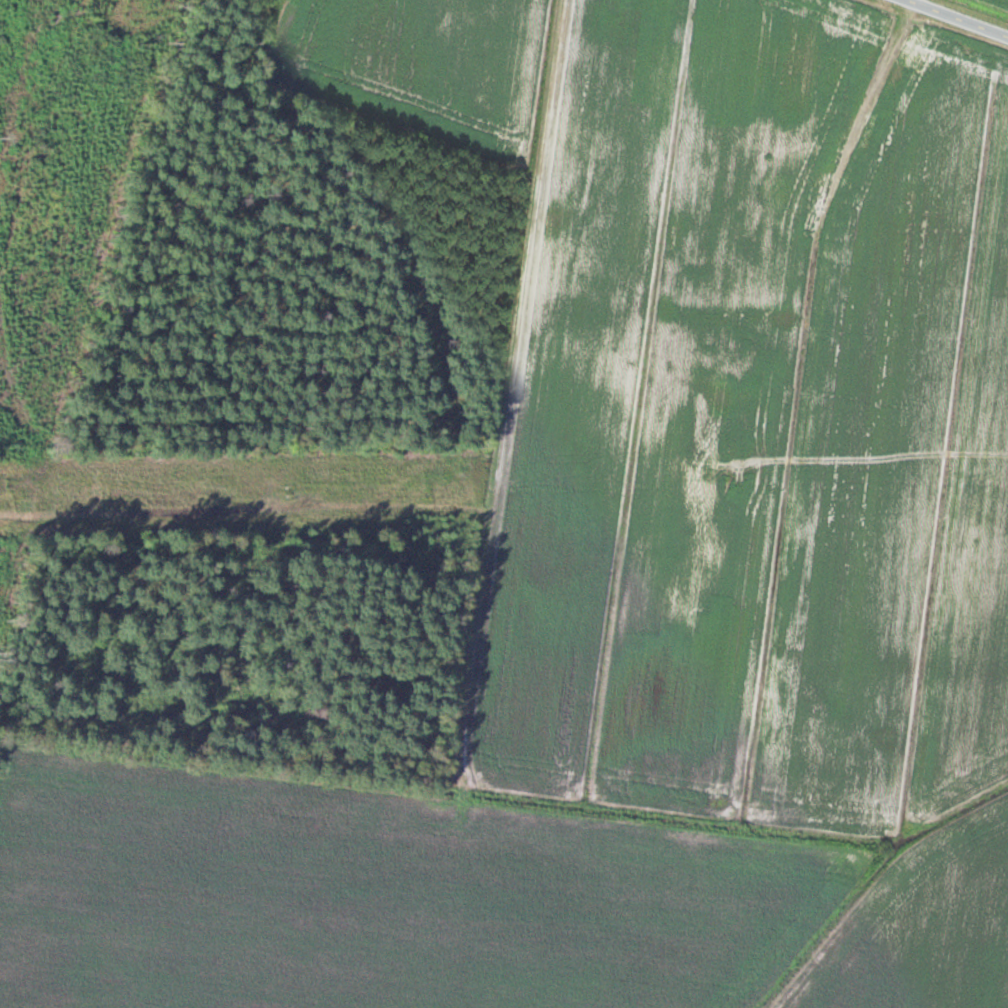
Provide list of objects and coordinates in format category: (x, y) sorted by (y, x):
road: (953, 19)
power tower: (724, 477)
power tower: (291, 492)

